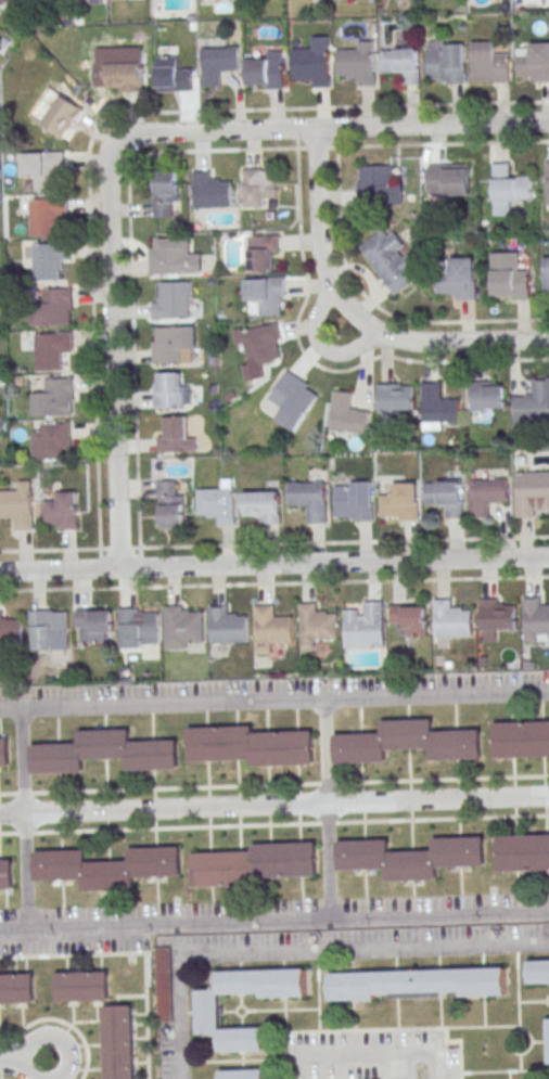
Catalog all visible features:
building: (95, 0)
building: (7, 1)
building: (534, 61)
building: (314, 62)
building: (357, 62)
building: (401, 62)
building: (446, 63)
building: (488, 63)
building: (218, 64)
building: (266, 72)
building: (173, 75)
building: (124, 76)
road: (339, 106)
building: (63, 116)
road: (124, 145)
road: (146, 154)
building: (43, 168)
building: (449, 179)
building: (547, 181)
building: (378, 184)
building: (257, 185)
building: (508, 189)
building: (210, 190)
building: (165, 193)
building: (46, 217)
building: (261, 253)
building: (170, 256)
building: (49, 261)
building: (391, 261)
building: (509, 277)
building: (546, 277)
building: (456, 278)
building: (266, 294)
building: (173, 301)
building: (53, 307)
road: (355, 316)
road: (91, 319)
road: (487, 320)
road: (318, 342)
building: (260, 343)
building: (175, 345)
building: (51, 348)
road: (462, 361)
building: (170, 390)
building: (487, 395)
building: (395, 397)
building: (54, 398)
building: (292, 399)
building: (438, 404)
building: (535, 404)
building: (347, 413)
building: (176, 436)
building: (51, 440)
building: (532, 492)
building: (486, 494)
building: (446, 497)
building: (310, 499)
building: (353, 500)
building: (400, 502)
building: (169, 503)
building: (218, 503)
building: (17, 505)
building: (261, 505)
building: (63, 510)
road: (323, 542)
road: (273, 564)
road: (274, 582)
building: (497, 615)
building: (410, 618)
building: (451, 619)
building: (536, 619)
building: (93, 625)
building: (272, 625)
building: (316, 625)
building: (365, 625)
building: (226, 626)
building: (137, 627)
building: (182, 627)
building: (49, 629)
building: (11, 631)
road: (384, 696)
road: (162, 704)
building: (522, 740)
building: (408, 742)
building: (252, 745)
building: (4, 752)
building: (104, 753)
road: (23, 761)
road: (274, 784)
road: (274, 805)
road: (273, 823)
building: (524, 852)
building: (410, 857)
building: (255, 864)
building: (107, 866)
road: (25, 871)
building: (5, 874)
road: (438, 913)
parking lot: (245, 919)
road: (220, 921)
road: (302, 952)
building: (538, 971)
building: (164, 982)
building: (418, 982)
building: (84, 986)
building: (17, 988)
building: (209, 1012)
building: (548, 1032)
building: (119, 1042)
road: (25, 1056)
road: (357, 1061)
road: (50, 1067)
building: (242, 1072)

